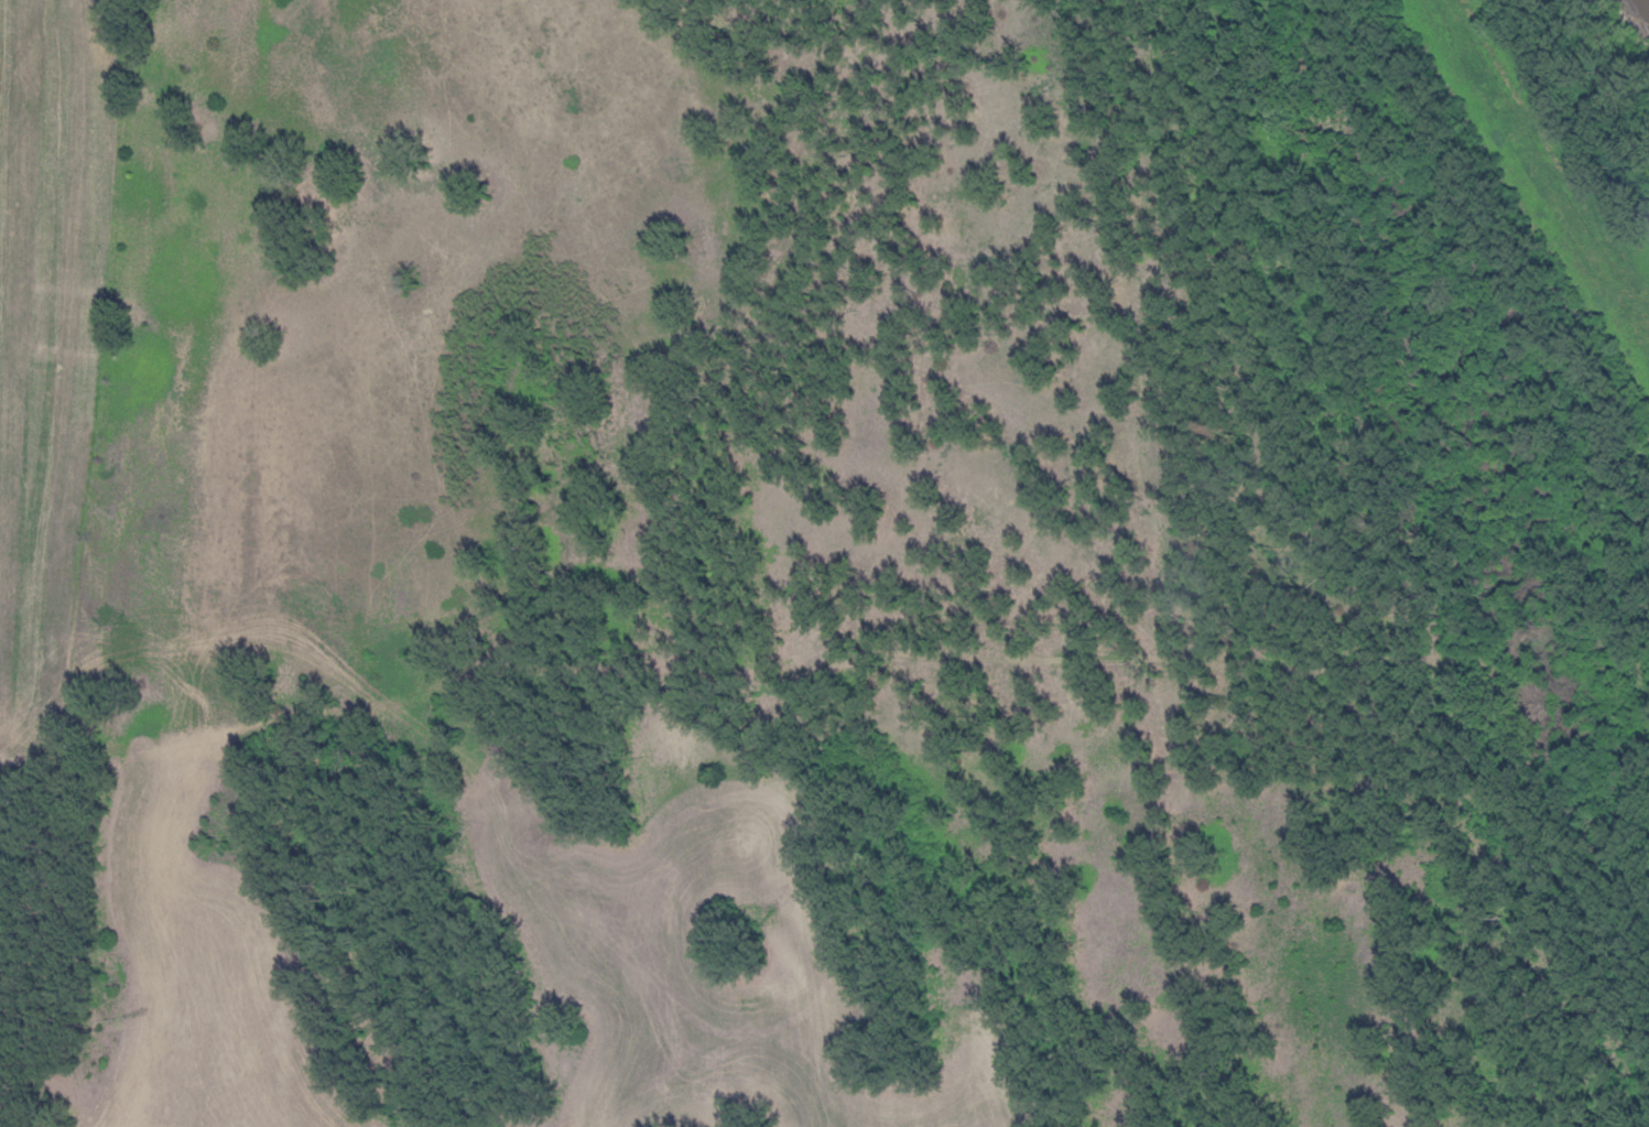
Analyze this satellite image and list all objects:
road: (824, 794)

